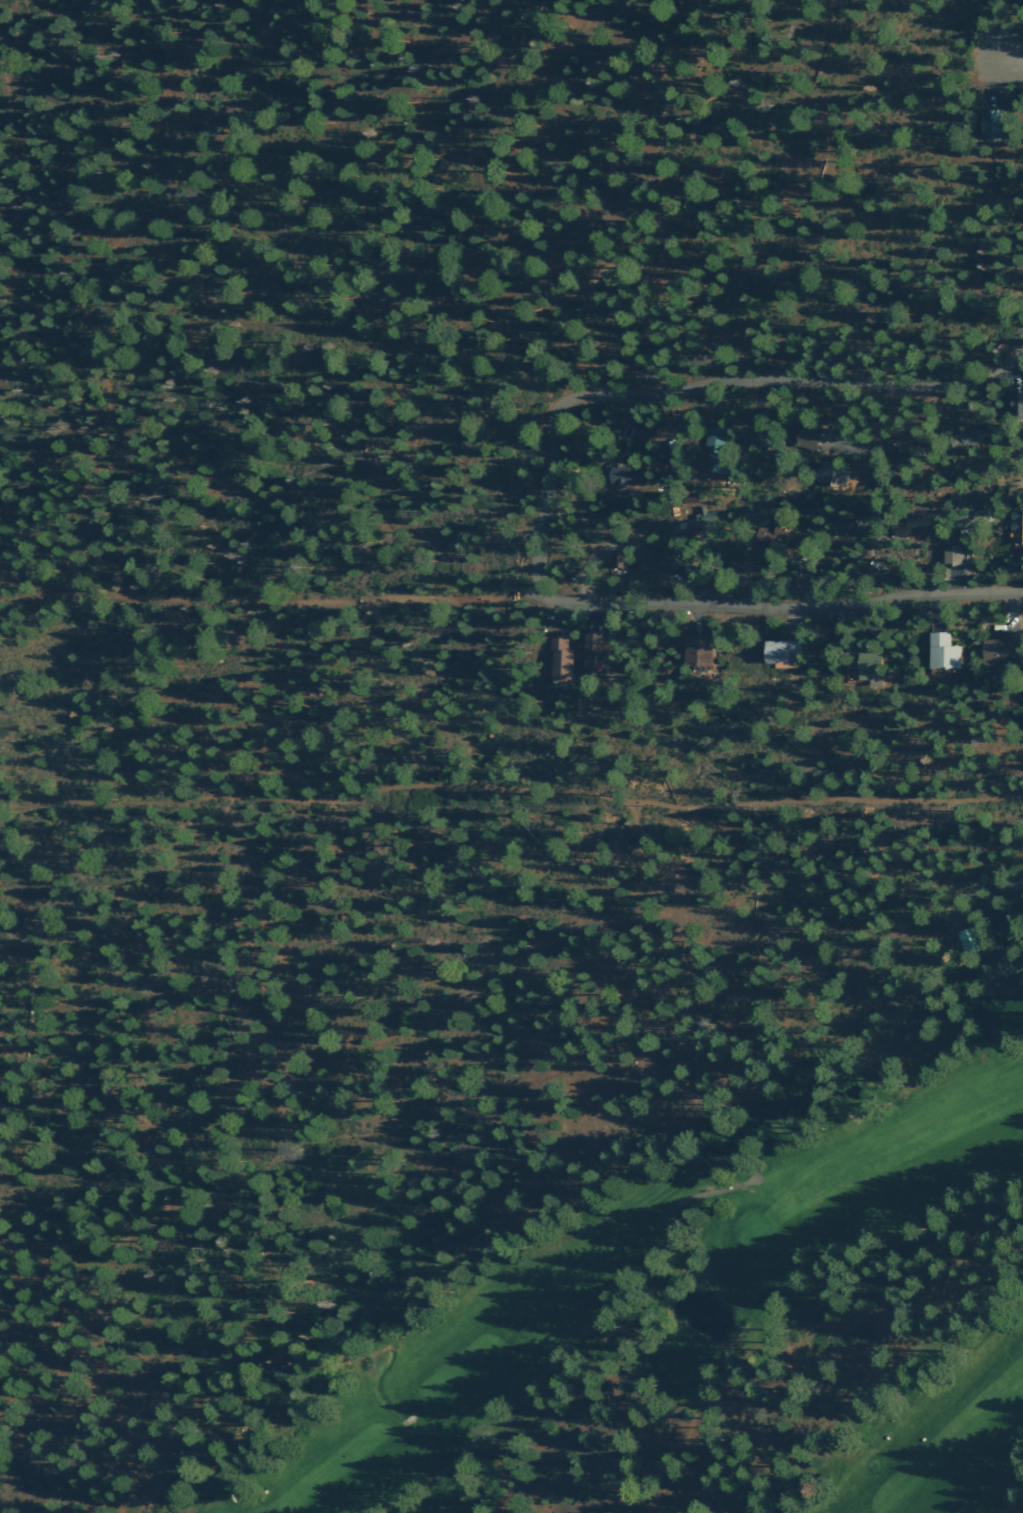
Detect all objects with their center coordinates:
road: (1014, 57)
building: (987, 123)
road: (7, 209)
road: (304, 251)
road: (827, 364)
road: (796, 379)
building: (1016, 403)
road: (111, 410)
building: (639, 429)
building: (805, 436)
building: (962, 438)
road: (275, 442)
building: (713, 448)
building: (830, 473)
building: (622, 474)
road: (546, 501)
building: (840, 522)
building: (695, 523)
building: (1015, 524)
building: (767, 532)
building: (952, 554)
building: (667, 558)
building: (618, 559)
road: (272, 598)
road: (783, 608)
road: (250, 625)
building: (594, 648)
building: (695, 648)
building: (1000, 648)
building: (776, 649)
building: (940, 650)
building: (559, 656)
road: (149, 665)
building: (867, 666)
road: (511, 786)
road: (992, 885)
building: (964, 936)
building: (999, 971)
road: (48, 1170)
road: (420, 1204)
road: (603, 1311)
park: (692, 1323)
road: (436, 1472)
road: (403, 1497)

